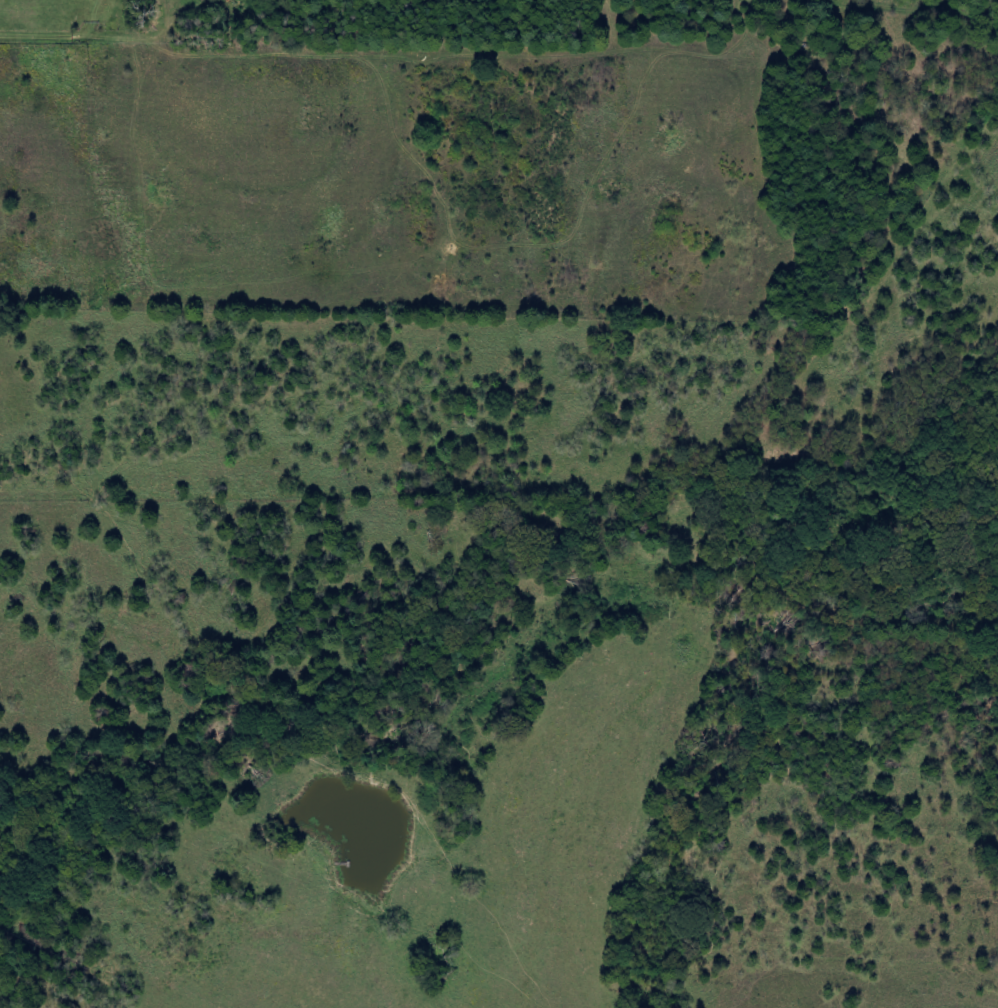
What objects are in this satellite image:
road: (207, 5)
road: (81, 37)

